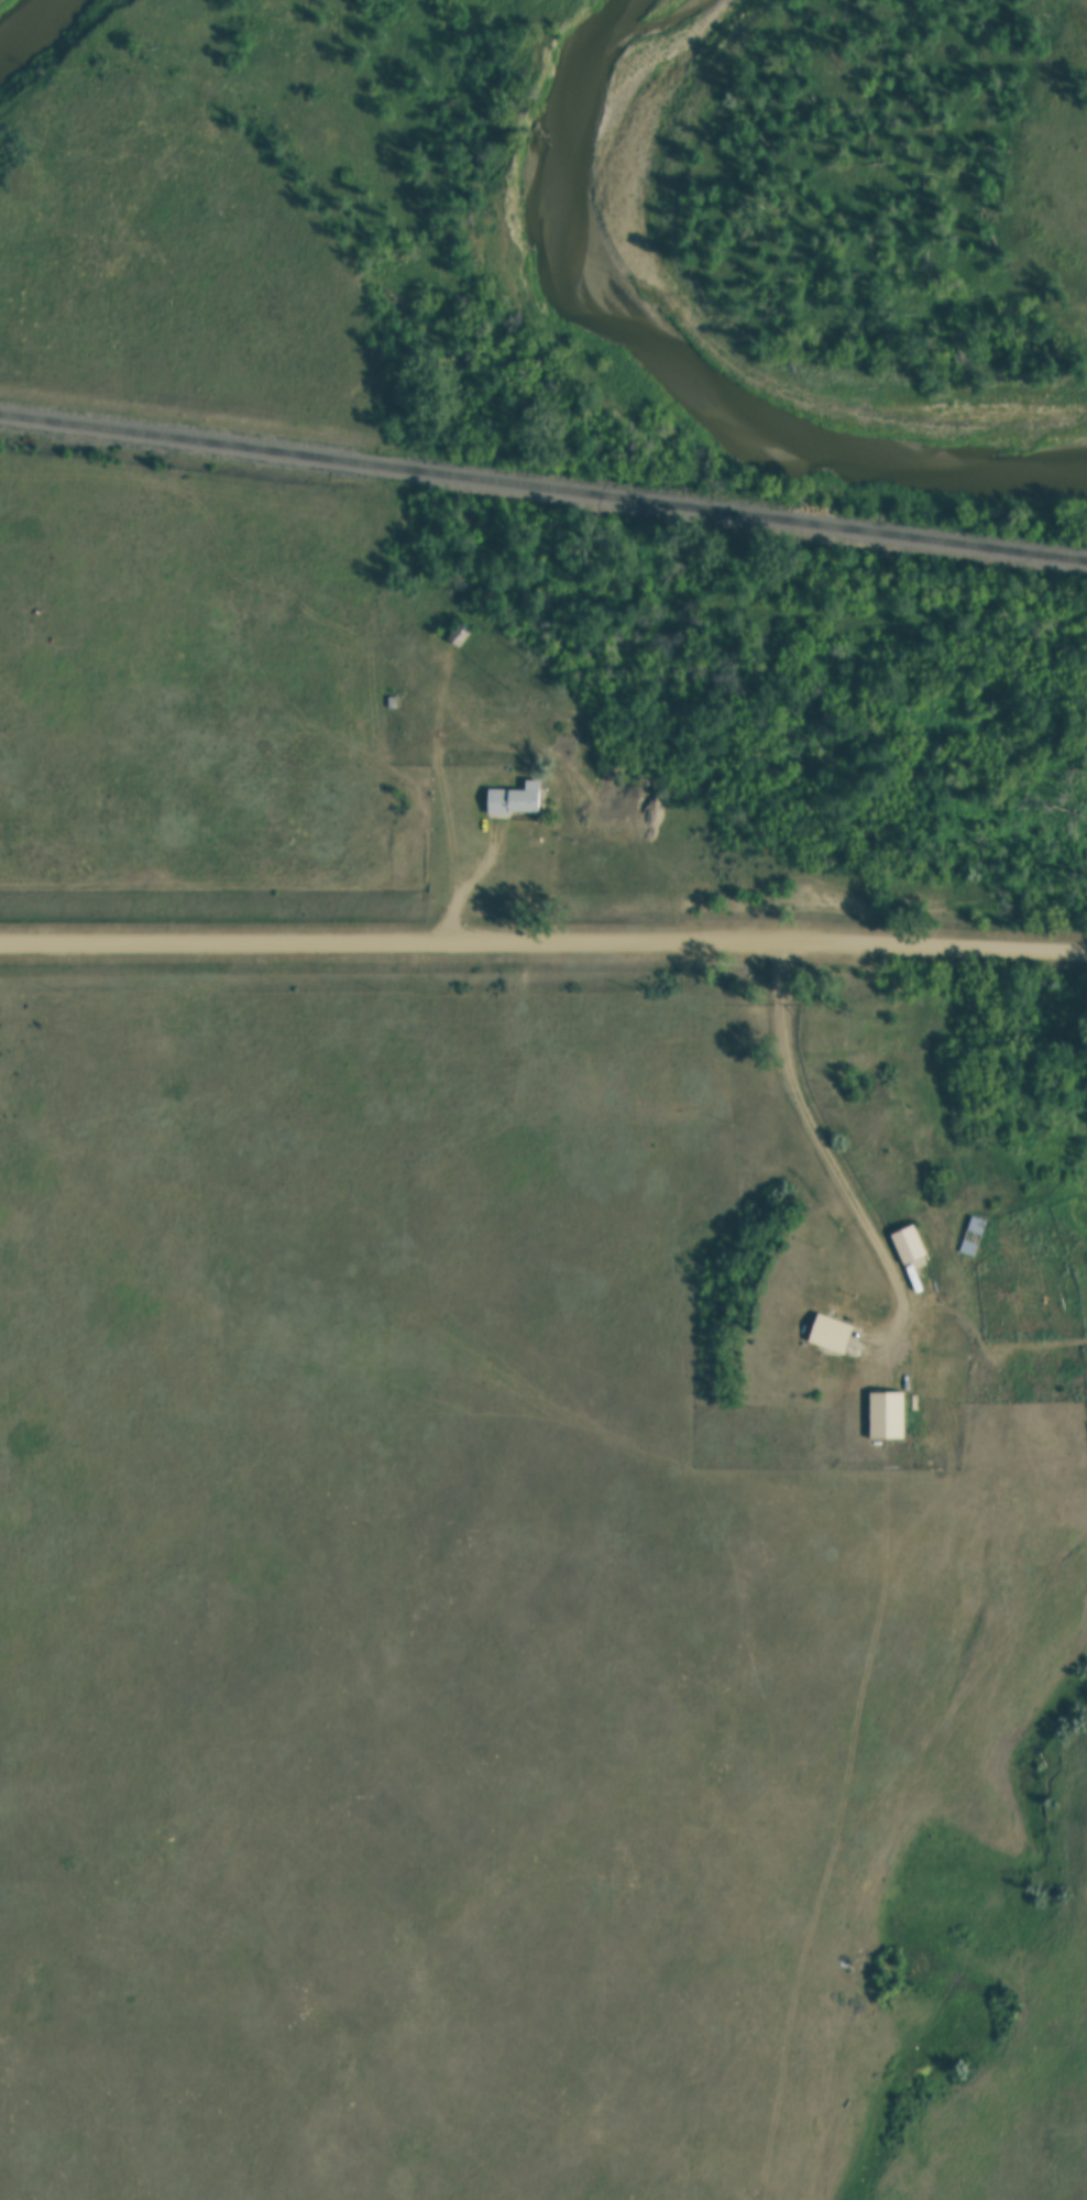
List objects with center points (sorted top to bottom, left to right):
railway: (542, 497)
building: (461, 637)
building: (517, 801)
road: (543, 943)
road: (830, 1139)
building: (974, 1235)
building: (911, 1244)
building: (833, 1333)

